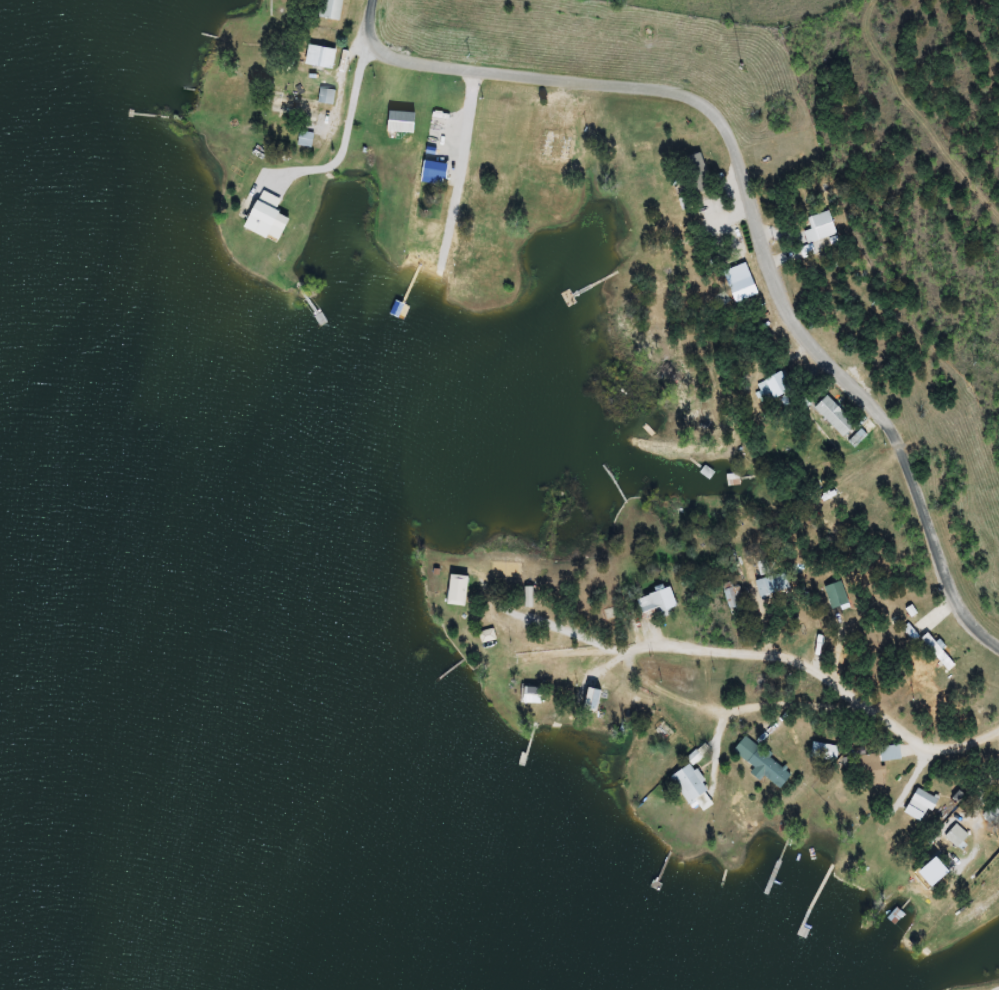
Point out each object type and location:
building: (334, 10)
building: (323, 57)
building: (305, 103)
building: (307, 140)
building: (644, 148)
building: (694, 177)
building: (266, 220)
road: (766, 225)
building: (821, 229)
building: (726, 300)
building: (780, 386)
building: (837, 417)
building: (481, 523)
building: (774, 586)
building: (461, 591)
building: (838, 596)
building: (734, 598)
building: (660, 604)
building: (804, 621)
building: (536, 696)
building: (595, 703)
road: (757, 720)
building: (666, 732)
building: (826, 752)
building: (892, 753)
building: (765, 764)
building: (871, 768)
building: (692, 786)
building: (925, 803)
building: (993, 814)
building: (958, 836)

